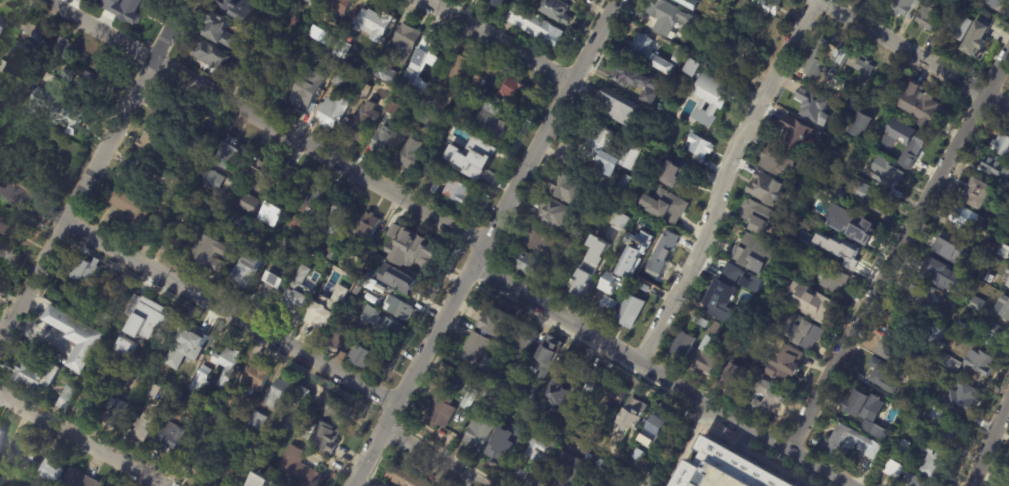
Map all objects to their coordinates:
building: (317, 0)
building: (94, 1)
building: (310, 1)
building: (570, 1)
road: (811, 1)
building: (948, 1)
building: (498, 2)
building: (489, 3)
building: (688, 3)
building: (283, 4)
building: (340, 4)
building: (993, 4)
building: (957, 5)
building: (290, 6)
building: (767, 6)
building: (695, 7)
building: (901, 7)
building: (248, 10)
building: (554, 11)
building: (672, 16)
building: (928, 18)
building: (293, 19)
building: (372, 23)
building: (2, 24)
building: (532, 27)
building: (221, 31)
building: (955, 31)
building: (315, 32)
building: (977, 40)
building: (404, 43)
road: (494, 44)
building: (261, 46)
building: (61, 48)
building: (341, 48)
building: (24, 51)
building: (653, 52)
building: (304, 54)
road: (910, 55)
building: (214, 56)
building: (839, 57)
building: (735, 59)
building: (816, 60)
building: (420, 64)
building: (2, 65)
building: (694, 66)
building: (455, 69)
building: (480, 70)
building: (380, 71)
building: (865, 71)
building: (268, 74)
building: (89, 78)
building: (338, 78)
building: (34, 81)
building: (474, 81)
building: (637, 83)
building: (307, 89)
building: (510, 89)
building: (891, 89)
building: (363, 91)
building: (710, 97)
building: (429, 99)
building: (618, 106)
building: (811, 106)
building: (388, 107)
building: (922, 107)
building: (60, 110)
building: (331, 111)
building: (166, 117)
building: (424, 117)
road: (267, 121)
building: (490, 122)
building: (360, 123)
building: (861, 126)
building: (9, 129)
building: (200, 135)
building: (797, 135)
building: (901, 137)
building: (382, 139)
building: (154, 144)
building: (701, 144)
building: (1001, 146)
building: (609, 152)
building: (229, 153)
building: (657, 153)
building: (408, 154)
building: (831, 155)
building: (476, 157)
building: (445, 160)
building: (775, 162)
road: (91, 167)
building: (996, 167)
building: (264, 173)
building: (675, 173)
building: (886, 173)
building: (439, 176)
building: (210, 178)
road: (720, 180)
building: (288, 182)
building: (619, 185)
building: (175, 188)
building: (764, 189)
building: (567, 190)
building: (456, 191)
building: (838, 194)
building: (896, 195)
building: (316, 196)
building: (979, 196)
building: (870, 198)
building: (250, 204)
building: (665, 204)
building: (132, 208)
building: (269, 212)
building: (164, 215)
building: (336, 215)
building: (553, 215)
building: (757, 217)
building: (825, 219)
building: (622, 221)
building: (292, 222)
building: (962, 222)
building: (244, 225)
building: (860, 227)
building: (368, 228)
building: (12, 229)
building: (824, 238)
building: (250, 239)
building: (181, 240)
road: (485, 242)
building: (539, 243)
building: (384, 244)
building: (747, 244)
building: (571, 247)
building: (990, 247)
road: (894, 248)
building: (211, 251)
building: (420, 252)
building: (1003, 252)
building: (845, 253)
building: (329, 254)
building: (276, 256)
building: (5, 258)
building: (659, 260)
building: (529, 265)
building: (625, 265)
building: (306, 266)
building: (590, 267)
building: (86, 268)
building: (935, 269)
building: (246, 272)
building: (640, 276)
building: (975, 278)
building: (396, 279)
building: (989, 279)
building: (832, 280)
building: (750, 282)
building: (545, 284)
building: (1007, 284)
building: (124, 286)
building: (272, 287)
building: (641, 287)
building: (725, 287)
building: (355, 289)
road: (199, 292)
building: (917, 294)
building: (963, 296)
building: (294, 298)
building: (932, 303)
building: (976, 305)
building: (607, 306)
building: (1003, 307)
building: (326, 309)
building: (399, 309)
building: (137, 310)
building: (816, 311)
building: (629, 312)
building: (494, 321)
building: (699, 322)
building: (380, 324)
building: (163, 329)
building: (715, 329)
building: (961, 330)
building: (909, 331)
building: (78, 336)
building: (995, 336)
building: (810, 337)
building: (335, 339)
building: (937, 339)
building: (523, 341)
building: (189, 345)
building: (681, 345)
building: (475, 348)
building: (132, 354)
building: (544, 355)
building: (364, 356)
building: (899, 356)
building: (709, 357)
building: (980, 360)
building: (228, 363)
building: (485, 363)
building: (948, 363)
building: (787, 365)
building: (37, 372)
building: (510, 372)
building: (257, 376)
road: (661, 376)
building: (884, 376)
building: (201, 377)
building: (124, 379)
building: (593, 385)
building: (921, 390)
building: (154, 391)
building: (528, 391)
building: (300, 392)
building: (278, 393)
building: (552, 393)
building: (963, 393)
building: (616, 396)
building: (66, 397)
building: (181, 397)
building: (468, 397)
building: (763, 399)
building: (90, 401)
building: (233, 402)
building: (861, 406)
building: (332, 407)
building: (513, 409)
building: (440, 411)
building: (556, 412)
building: (630, 413)
building: (117, 414)
building: (521, 416)
building: (256, 420)
building: (912, 422)
building: (941, 424)
building: (655, 425)
building: (594, 427)
building: (143, 428)
building: (197, 430)
building: (480, 430)
building: (248, 431)
building: (1, 434)
building: (878, 434)
building: (170, 436)
building: (323, 437)
road: (742, 438)
road: (83, 439)
road: (667, 439)
building: (259, 443)
building: (837, 443)
road: (596, 445)
road: (988, 445)
building: (503, 448)
building: (904, 449)
building: (23, 453)
road: (753, 453)
building: (531, 455)
building: (636, 455)
road: (681, 455)
building: (195, 458)
road: (431, 459)
building: (932, 461)
building: (729, 464)
building: (596, 465)
building: (296, 468)
building: (565, 468)
building: (52, 469)
building: (614, 470)
building: (892, 470)
building: (623, 475)
building: (228, 476)
building: (1, 477)
building: (720, 477)
parking garage: (720, 477)
building: (80, 479)
building: (263, 479)
building: (407, 479)
building: (911, 481)
building: (1006, 483)

